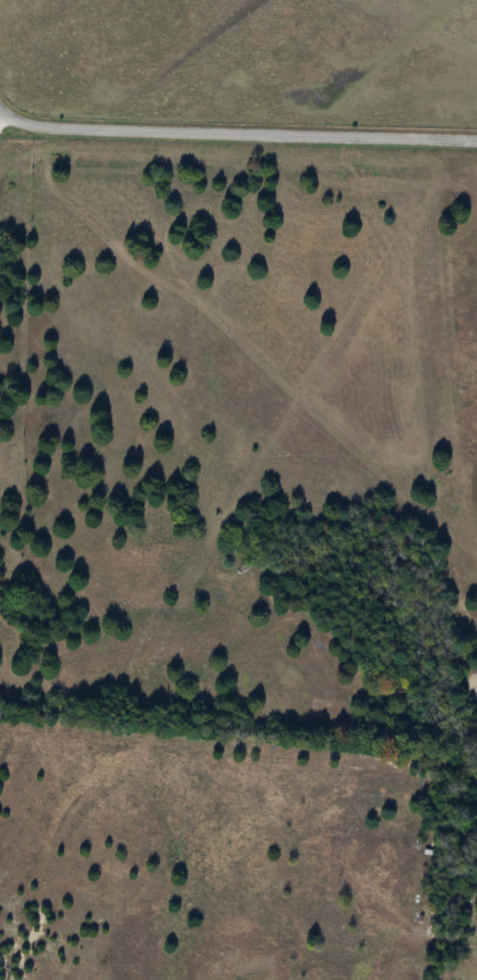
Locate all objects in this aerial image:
road: (236, 132)

